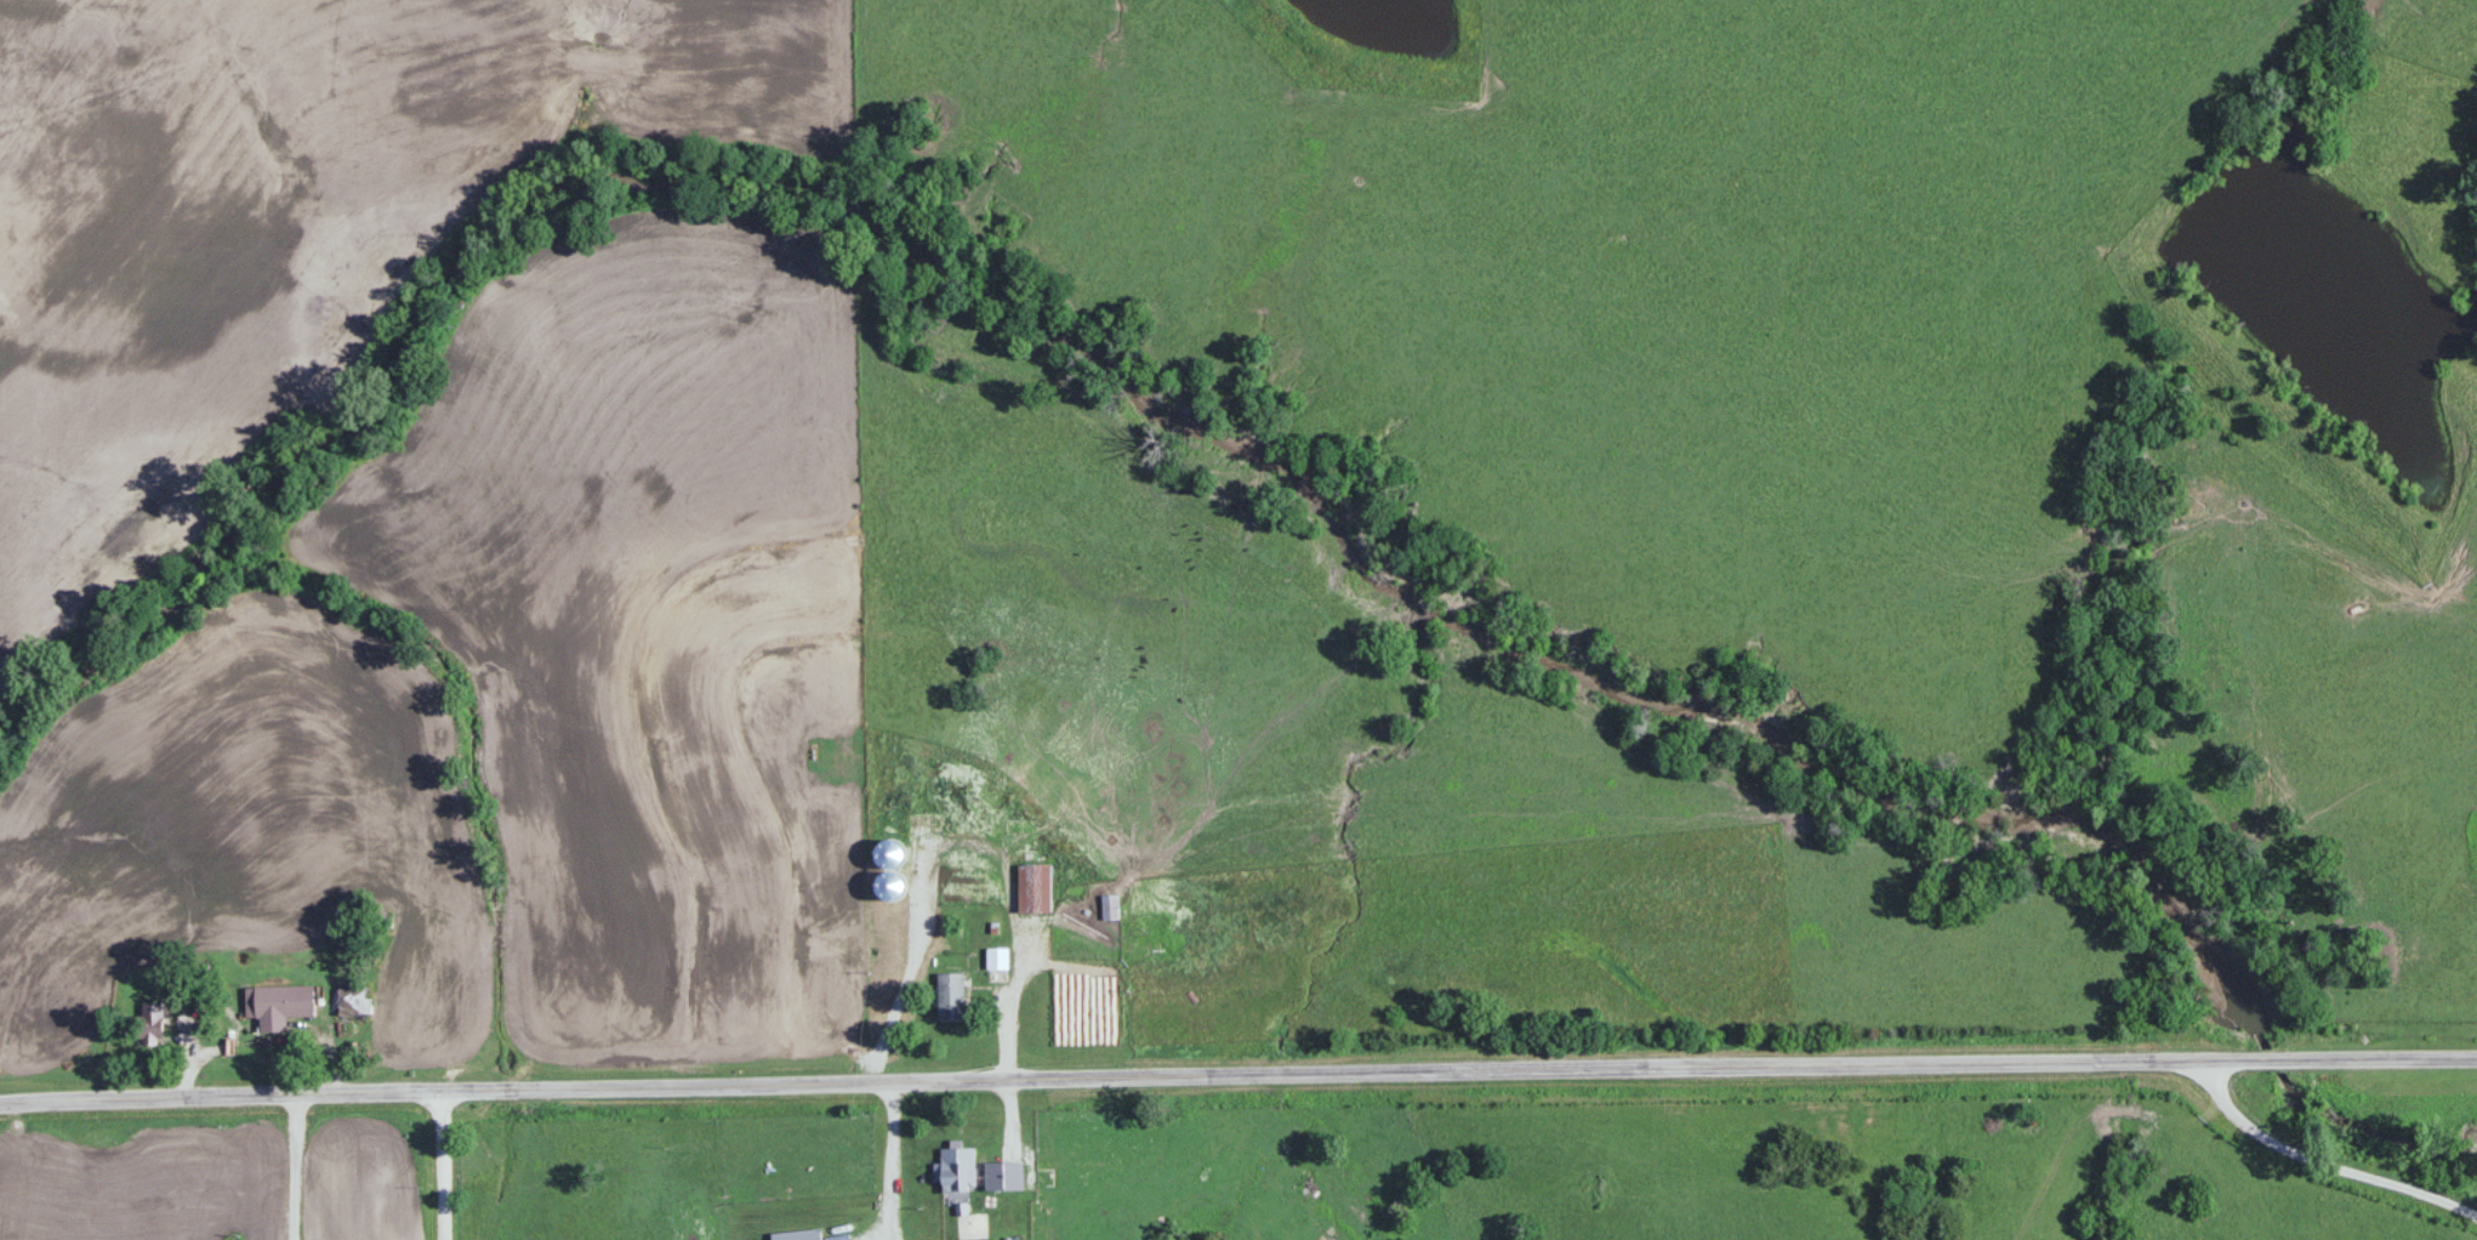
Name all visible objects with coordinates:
crop: (848, 0)
crop: (204, 216)
crop: (344, 320)
building: (1035, 888)
building: (1110, 908)
building: (997, 959)
building: (951, 996)
road: (1012, 996)
building: (352, 1000)
building: (278, 1006)
building: (152, 1024)
road: (262, 1036)
road: (1460, 1068)
road: (222, 1096)
road: (2321, 1160)
road: (444, 1165)
building: (958, 1170)
building: (1044, 1177)
building: (798, 1235)

